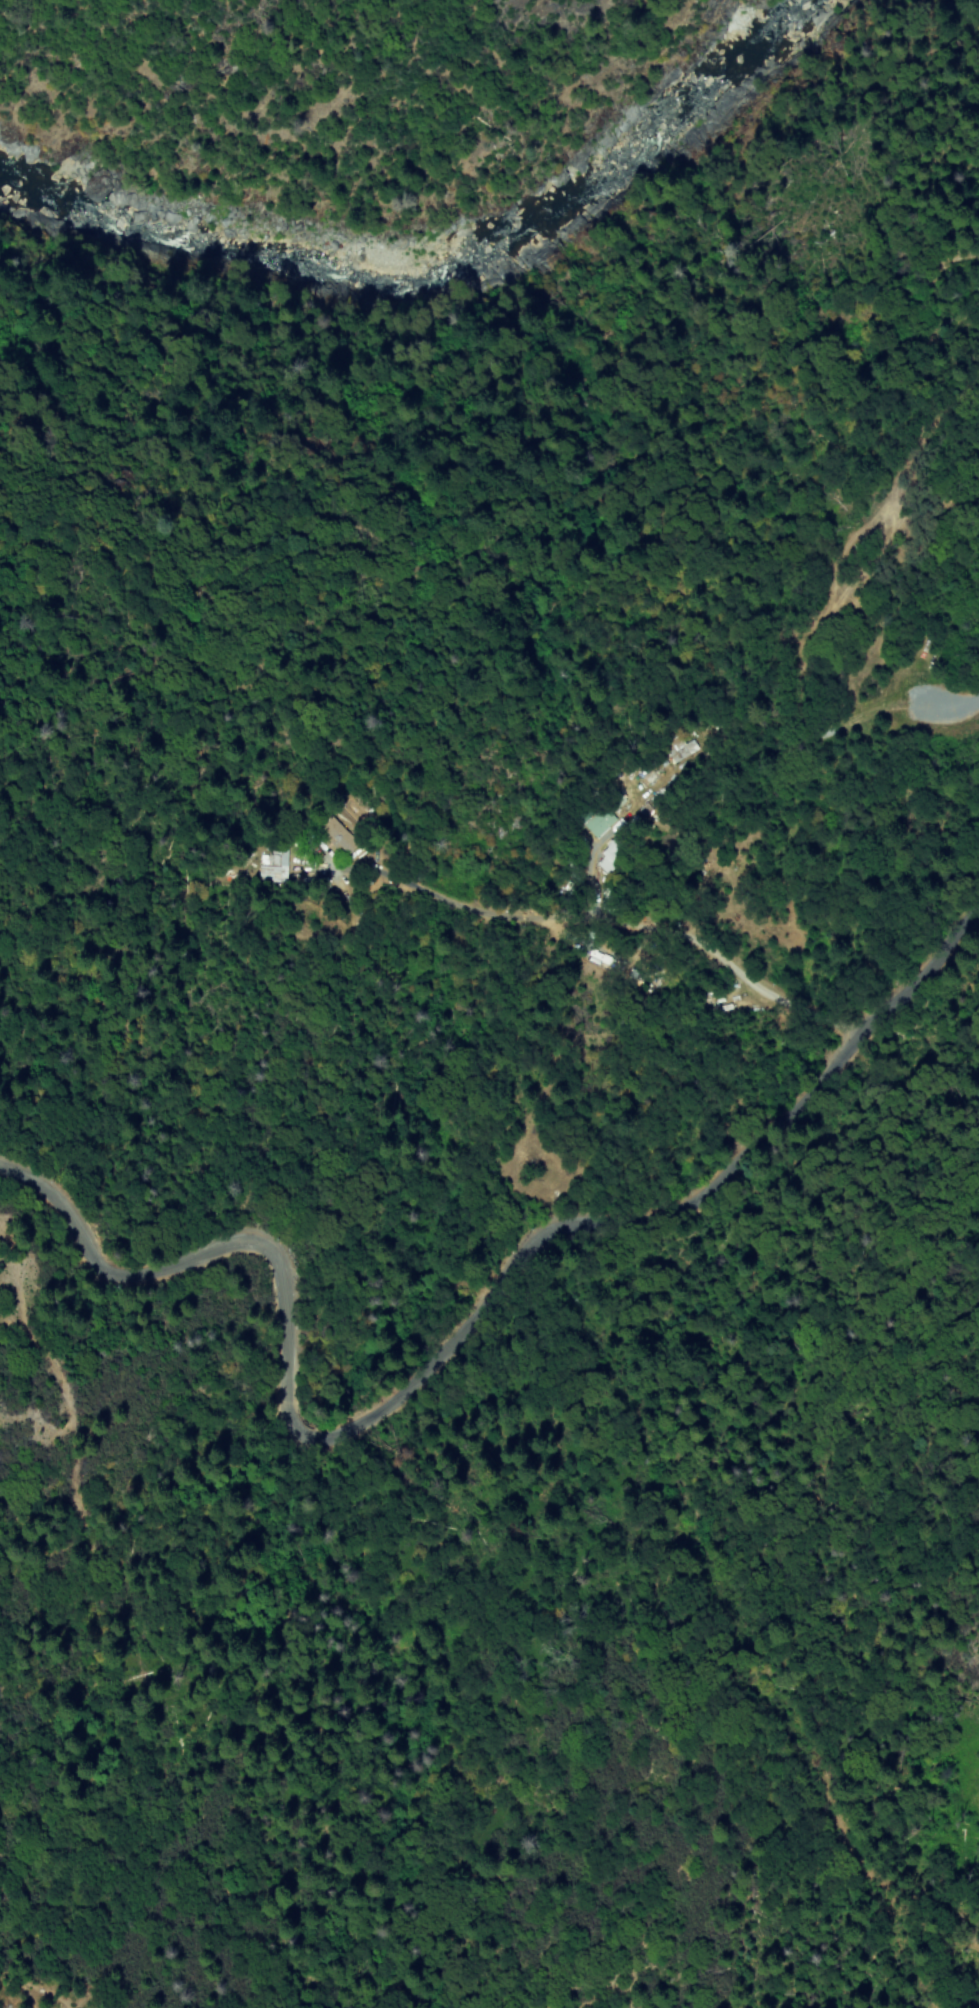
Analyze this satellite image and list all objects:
river: (438, 253)
road: (953, 703)
building: (602, 823)
building: (337, 836)
building: (606, 857)
crop: (672, 874)
road: (605, 924)
road: (460, 1344)

